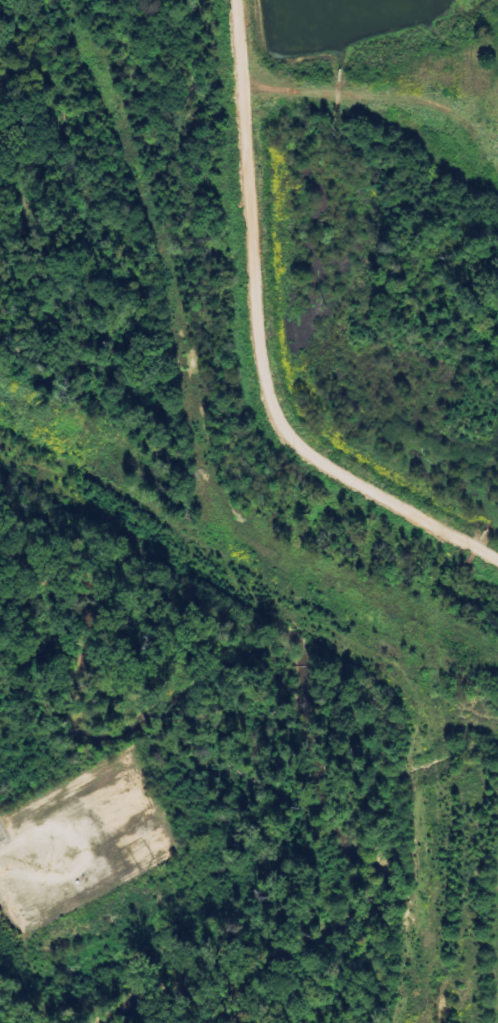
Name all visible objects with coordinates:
road: (33, 846)

